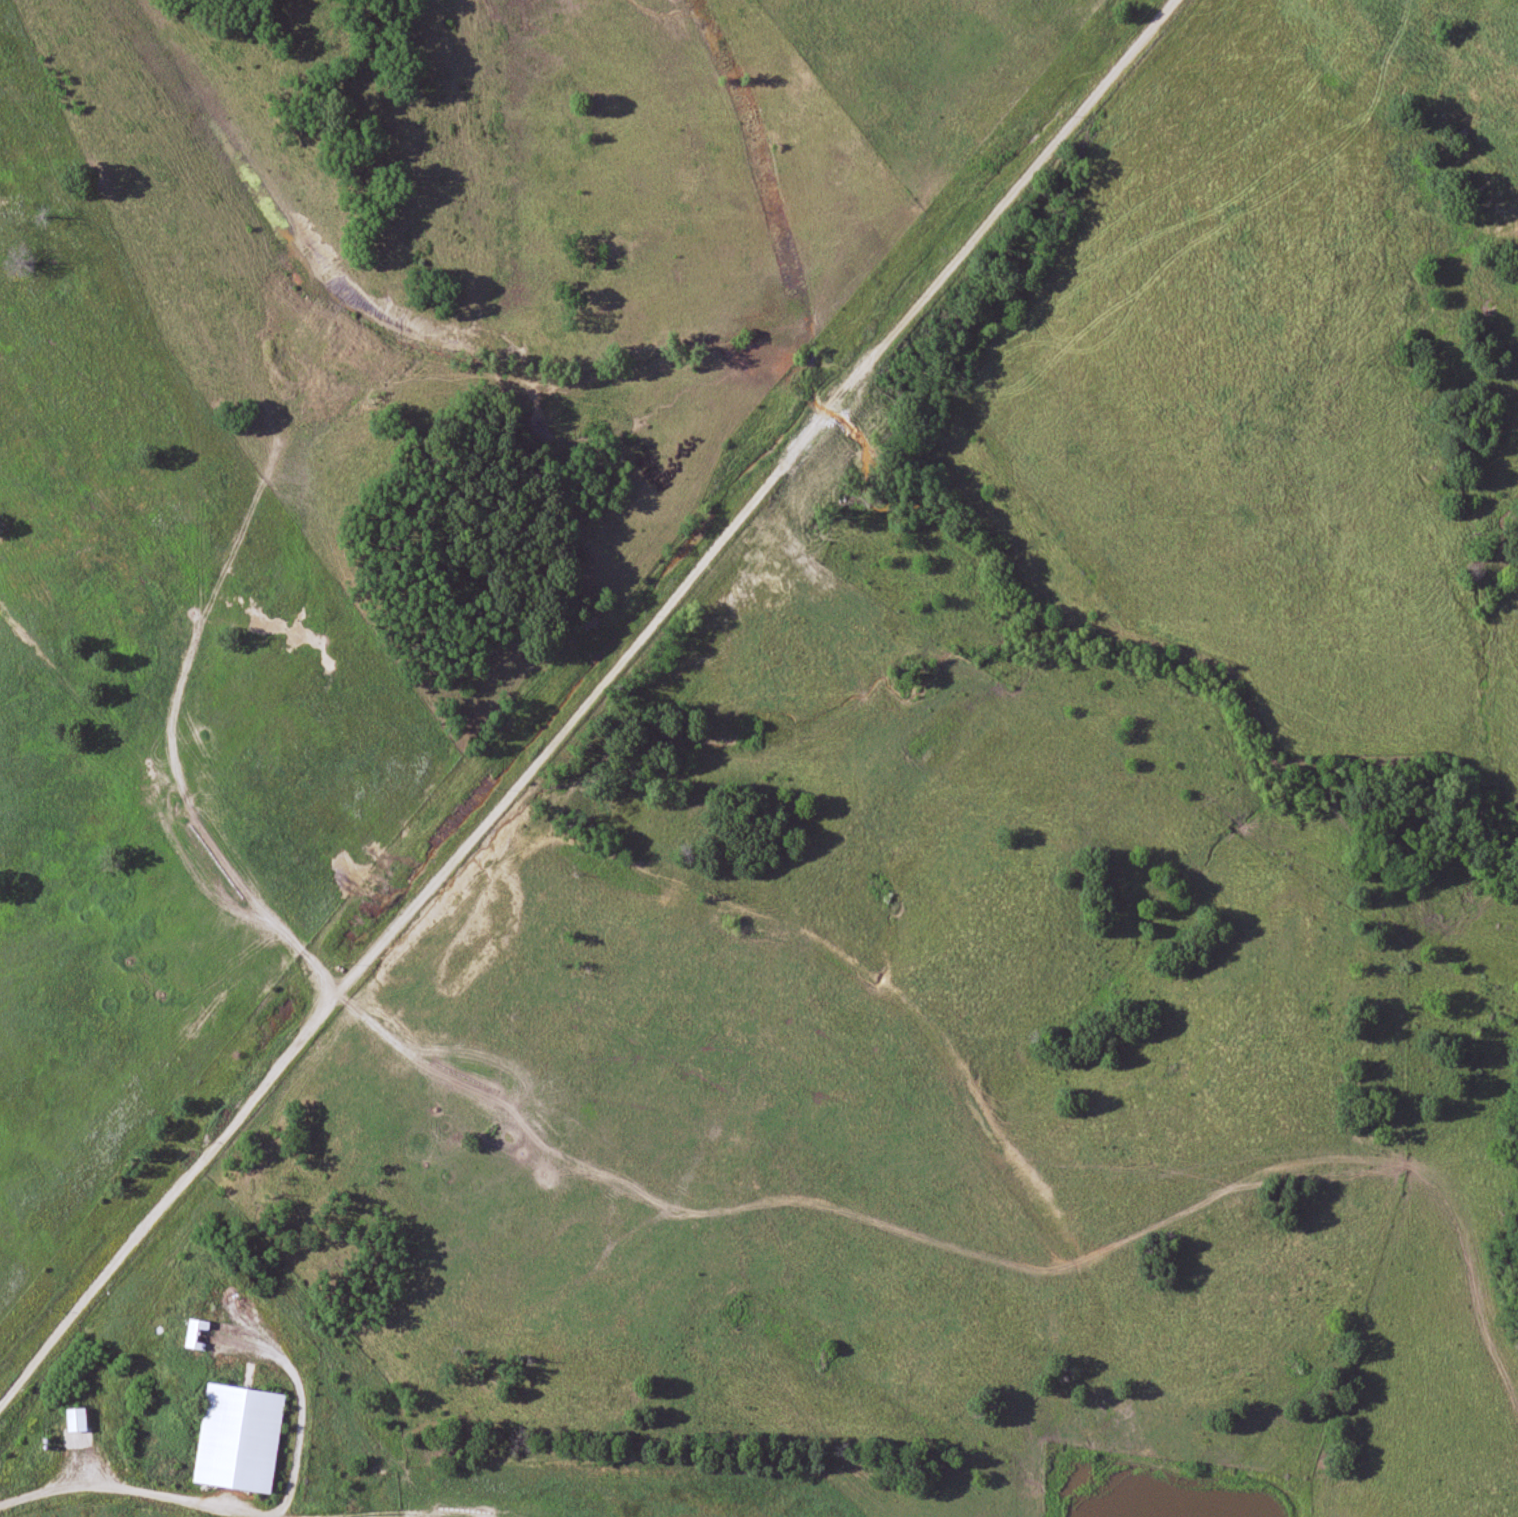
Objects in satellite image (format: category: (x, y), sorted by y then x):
road: (590, 692)
building: (197, 1335)
building: (76, 1420)
building: (239, 1439)
road: (226, 1507)

